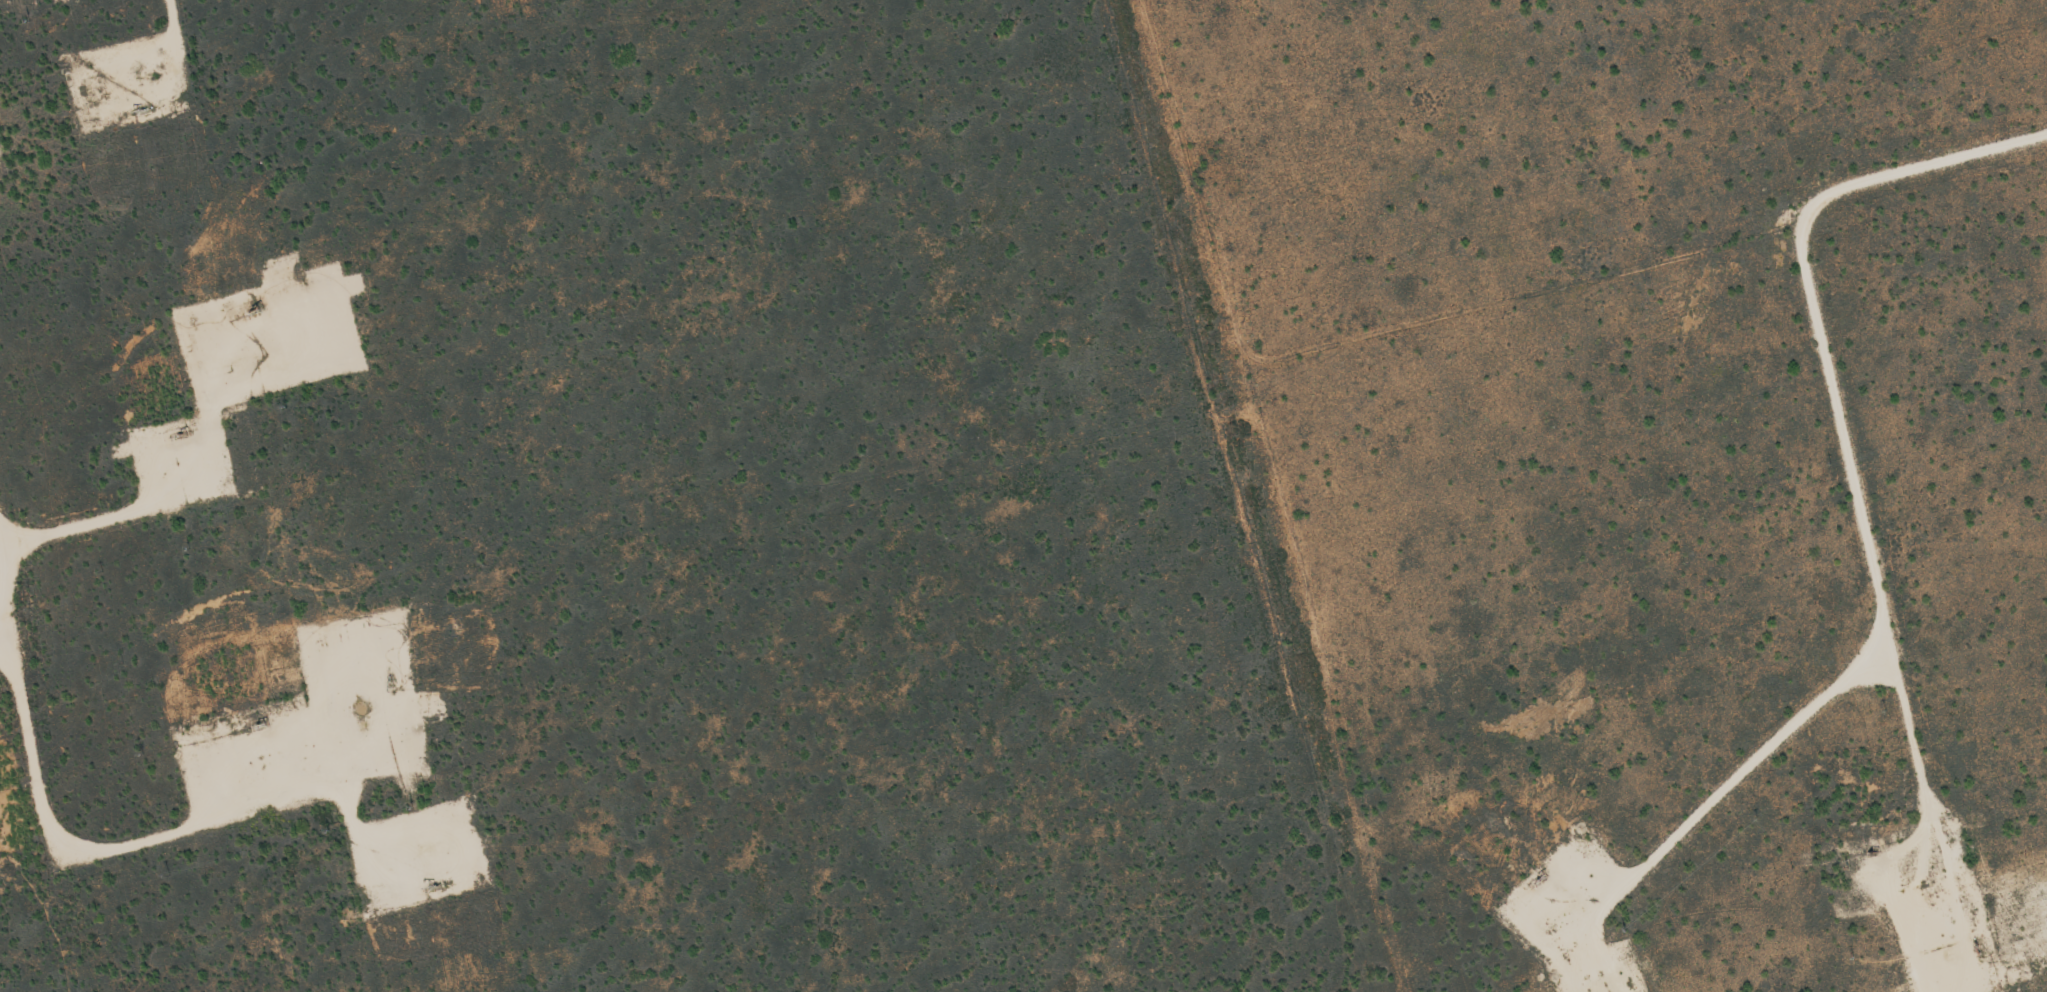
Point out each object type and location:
petroleum well: (182, 434)
road: (0, 560)
petroleum well: (256, 720)

